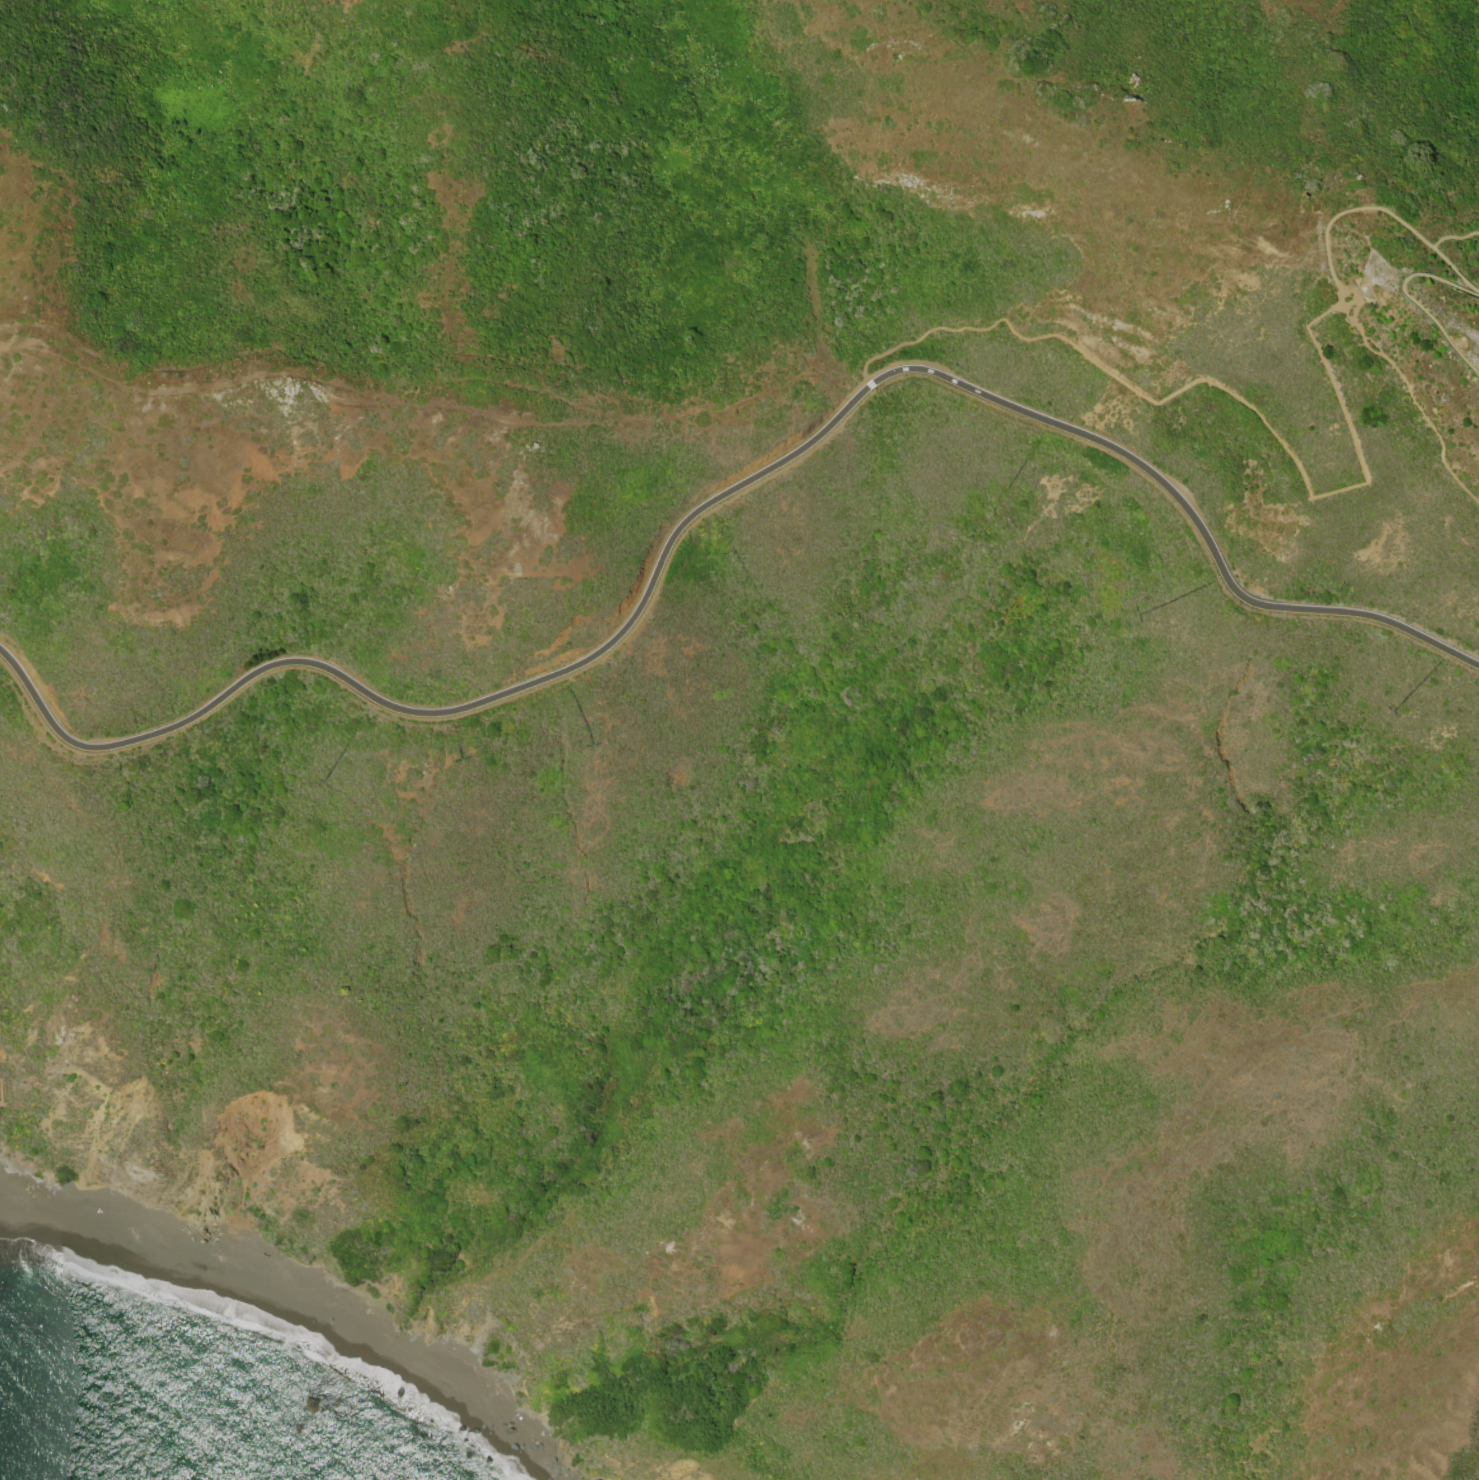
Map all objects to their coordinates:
road: (1392, 215)
road: (1478, 257)
road: (1334, 284)
road: (1363, 288)
road: (1410, 297)
road: (1346, 298)
road: (1007, 322)
road: (876, 356)
road: (1109, 372)
road: (1414, 398)
road: (1259, 416)
road: (1350, 430)
road: (797, 455)
road: (464, 715)
road: (48, 718)

